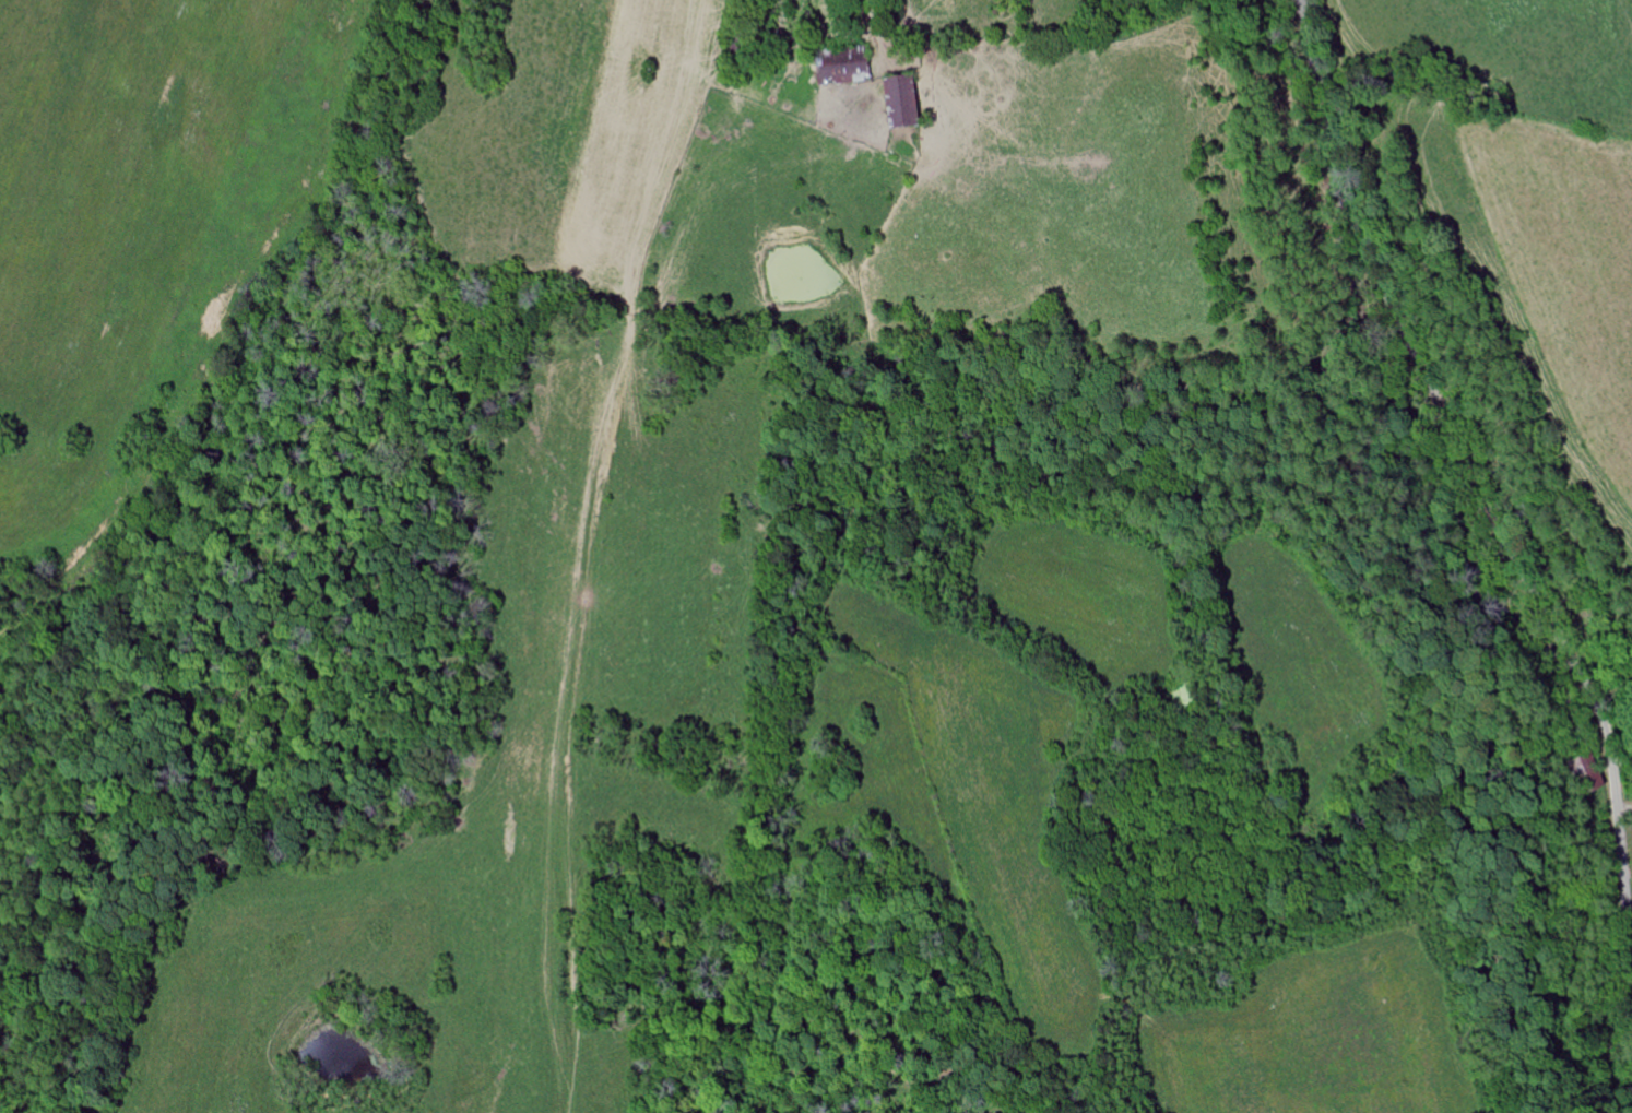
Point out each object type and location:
building: (906, 103)
road: (1473, 461)

